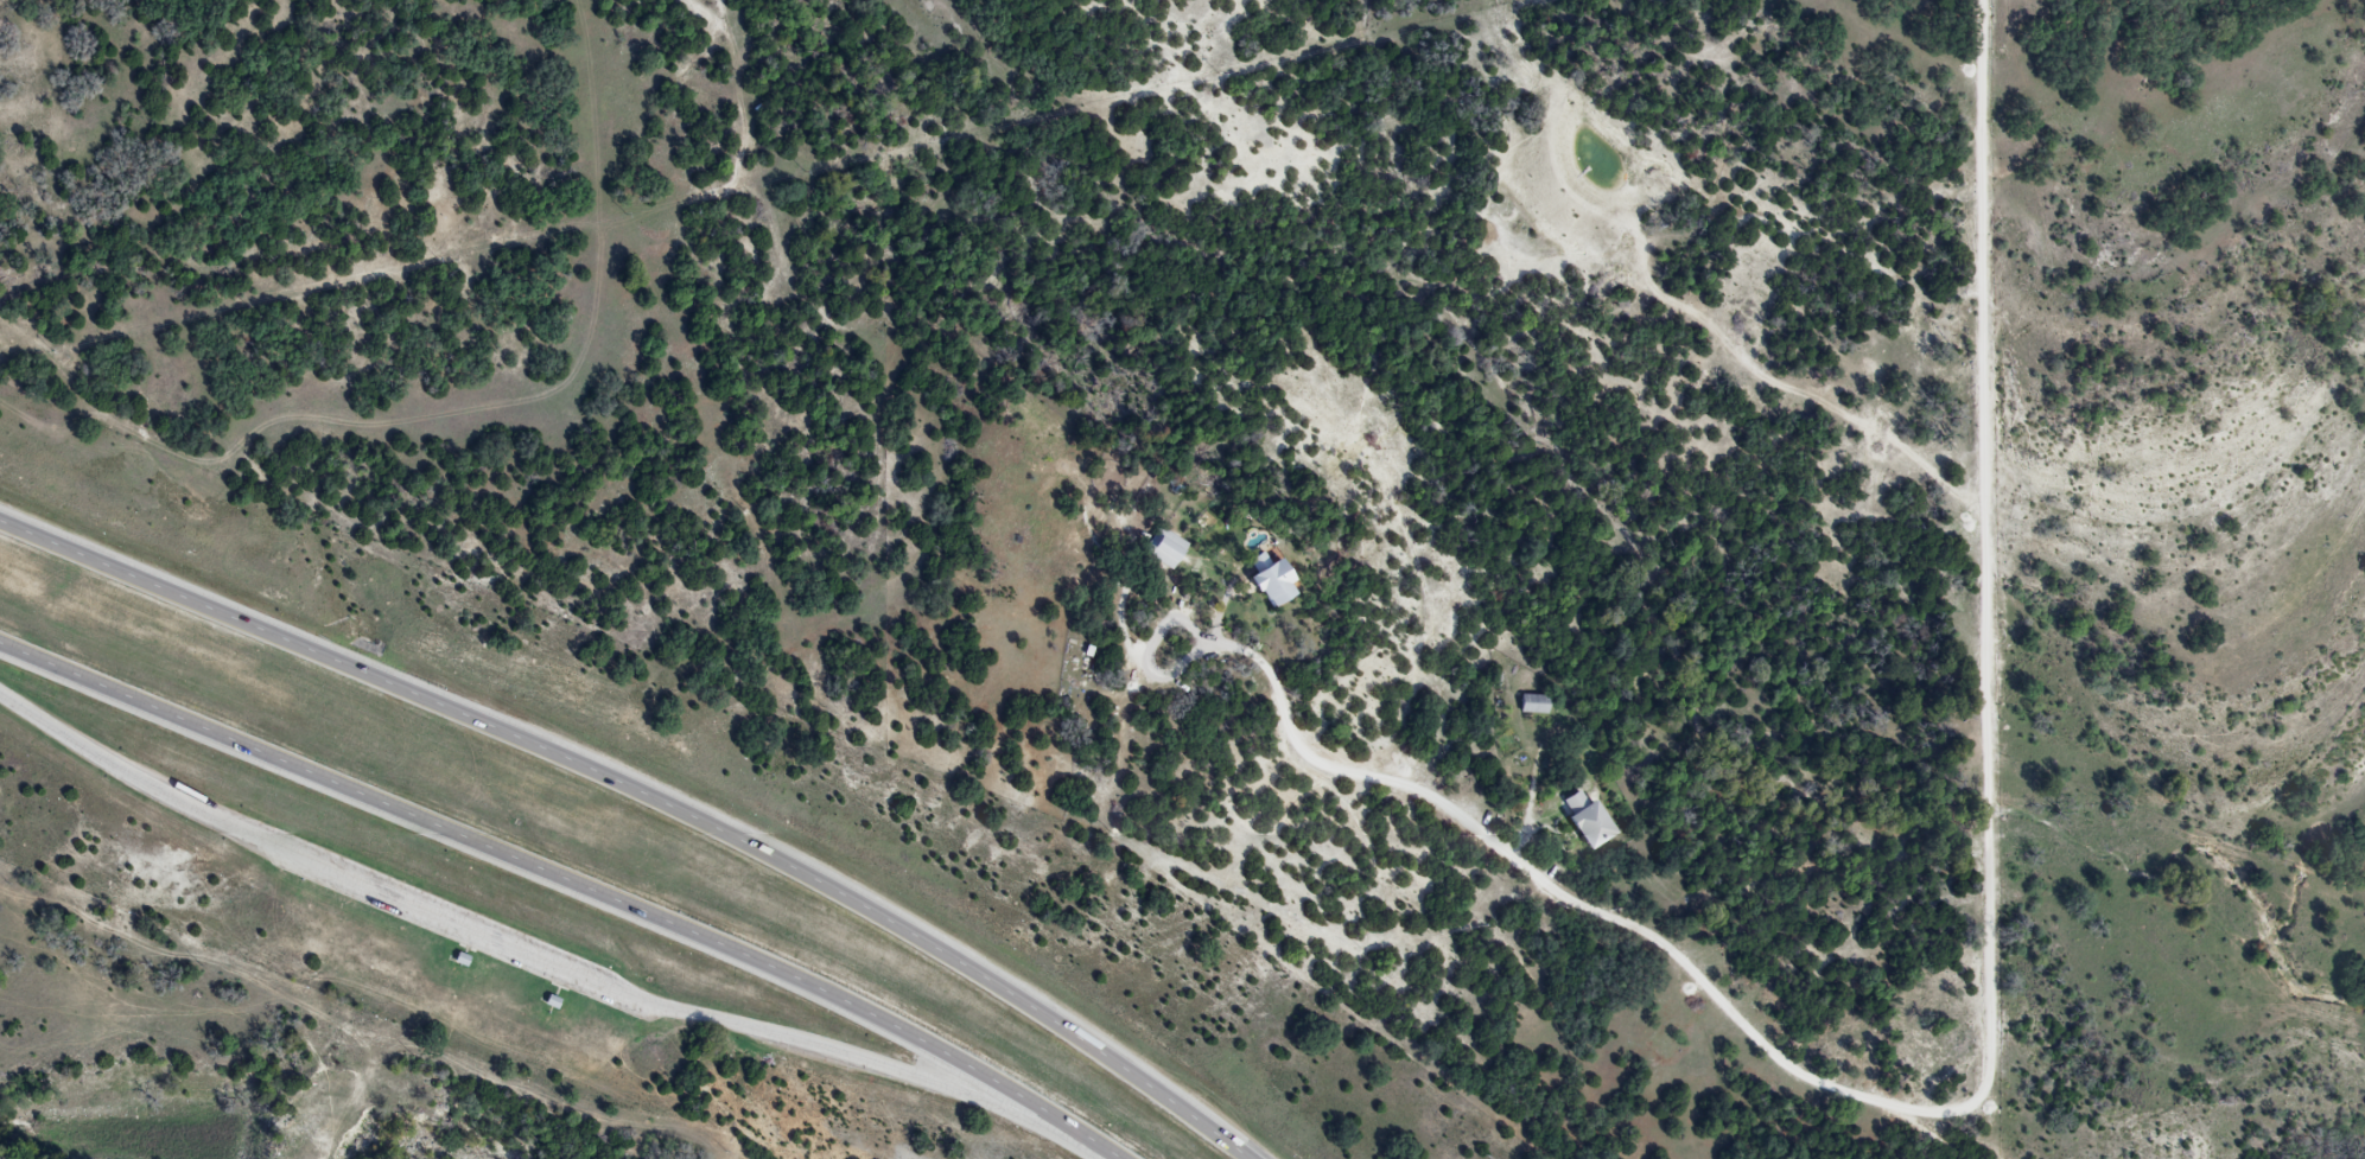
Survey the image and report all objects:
building: (1161, 548)
building: (1261, 580)
building: (1530, 705)
road: (123, 770)
road: (650, 794)
building: (1582, 821)
road: (571, 883)
road: (456, 921)
parking lot: (453, 923)
building: (456, 959)
building: (546, 1000)
road: (1991, 1025)
road: (878, 1062)

